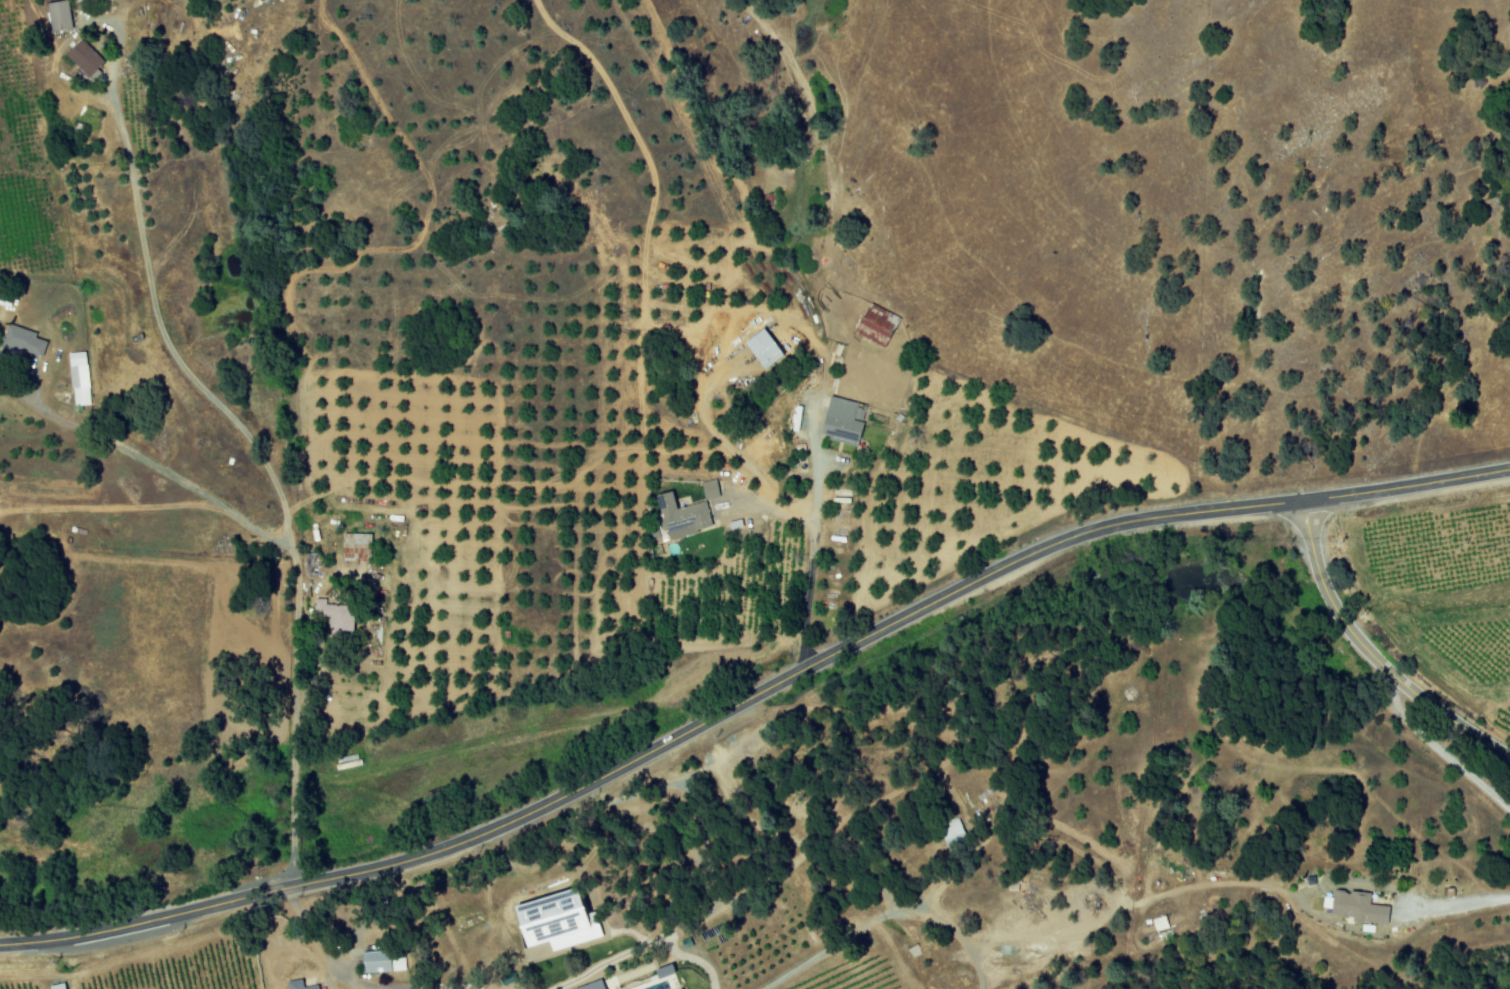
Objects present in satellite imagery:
road: (121, 12)
building: (57, 15)
building: (83, 59)
road: (826, 188)
building: (874, 325)
building: (21, 341)
building: (760, 349)
building: (77, 378)
building: (841, 420)
road: (253, 443)
building: (708, 489)
road: (199, 491)
building: (681, 517)
road: (813, 539)
building: (354, 547)
building: (333, 617)
road: (1372, 650)
road: (750, 691)
building: (346, 761)
building: (952, 831)
building: (550, 920)
building: (1159, 923)
road: (637, 946)
building: (380, 961)
road: (360, 982)
building: (297, 985)
building: (590, 985)
building: (55, 986)

